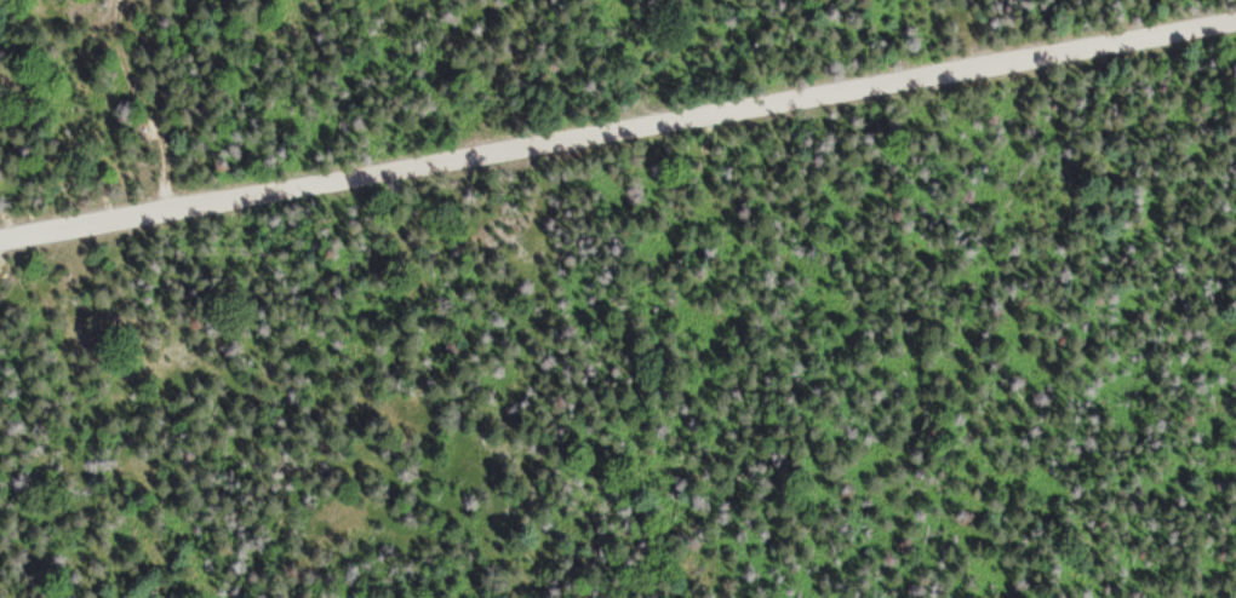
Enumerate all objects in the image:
road: (618, 131)

